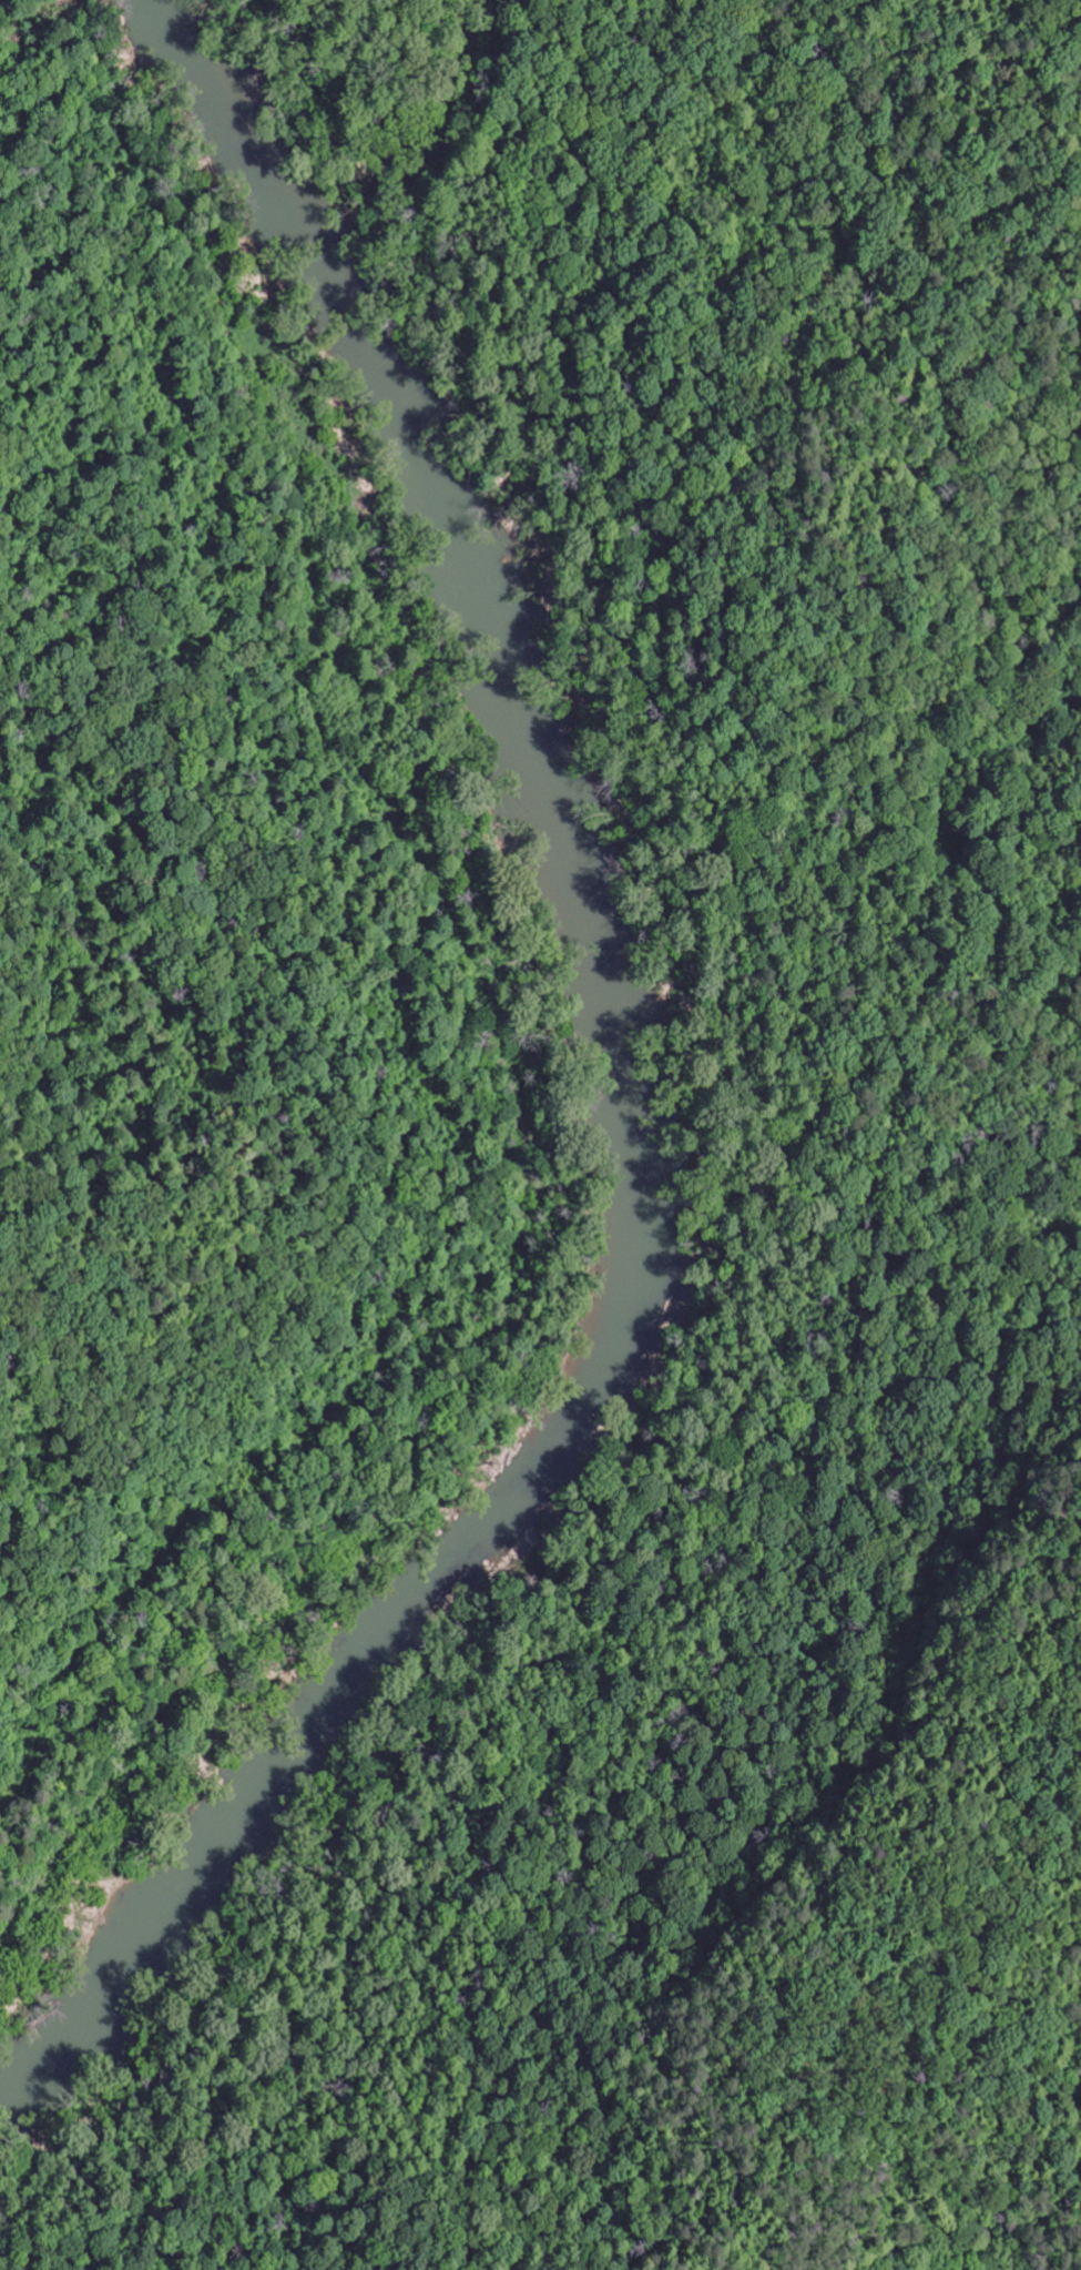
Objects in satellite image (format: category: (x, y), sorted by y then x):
river: (630, 1116)

